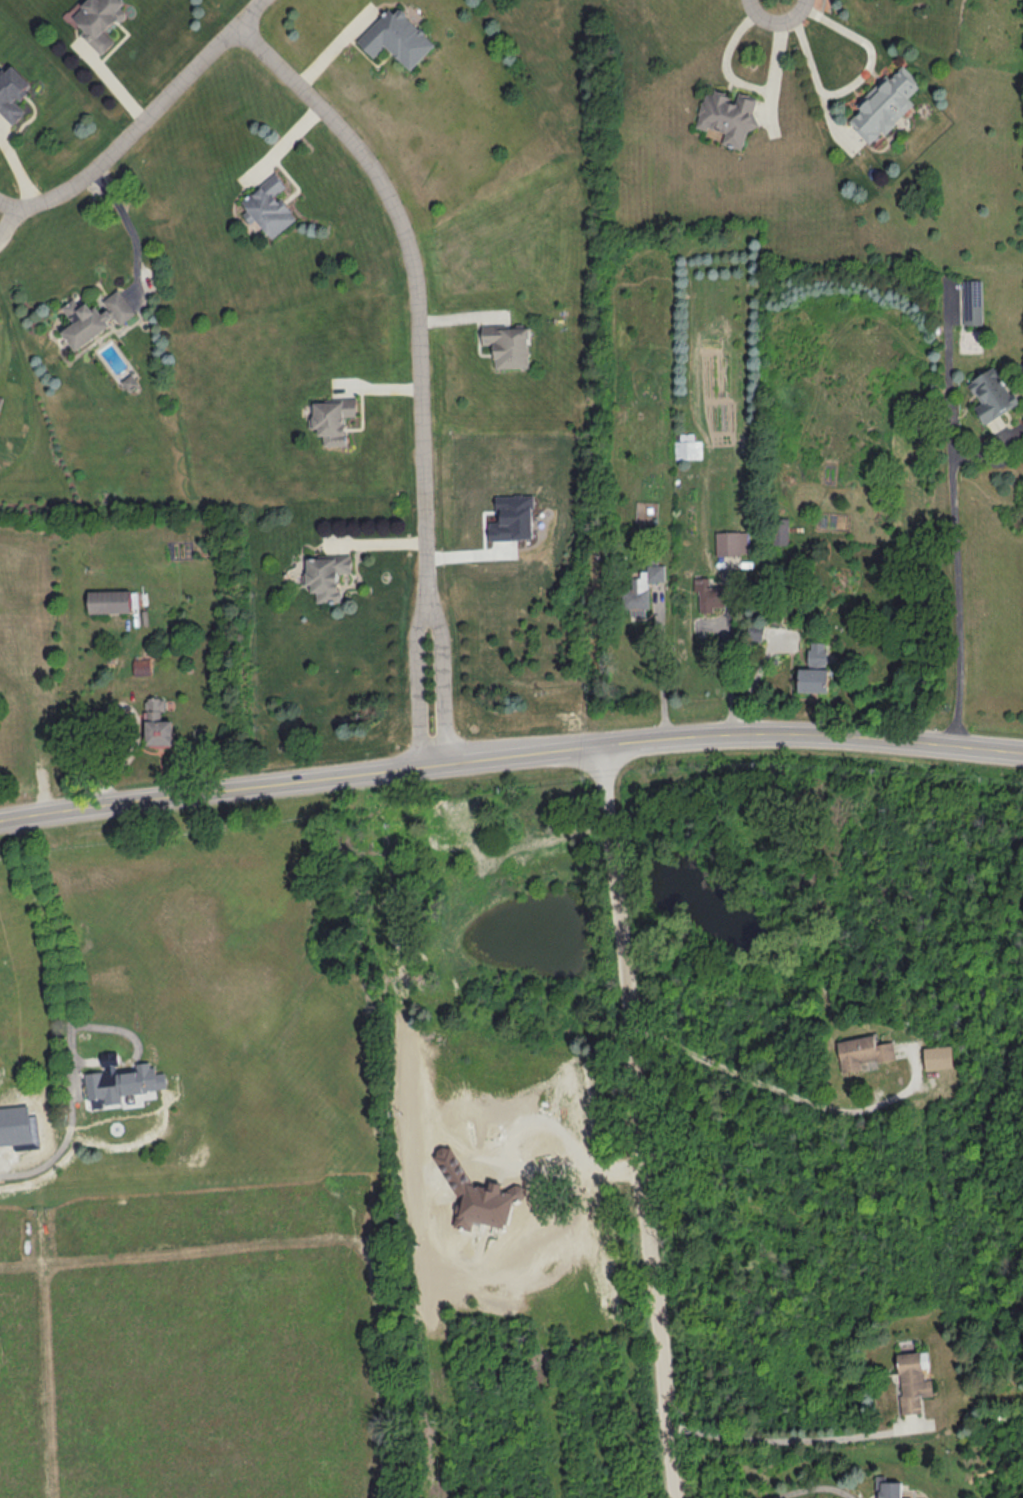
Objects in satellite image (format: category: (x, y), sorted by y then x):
building: (100, 22)
building: (398, 39)
road: (865, 45)
road: (817, 76)
road: (107, 84)
building: (13, 95)
building: (887, 105)
building: (728, 117)
road: (143, 121)
building: (271, 207)
road: (131, 229)
road: (418, 277)
building: (974, 302)
building: (95, 316)
building: (509, 346)
building: (993, 394)
building: (333, 420)
building: (689, 447)
building: (780, 531)
building: (732, 543)
building: (328, 577)
building: (643, 591)
road: (959, 592)
building: (710, 596)
building: (110, 601)
building: (819, 654)
road: (444, 674)
road: (730, 675)
road: (417, 677)
road: (661, 678)
road: (753, 679)
building: (815, 680)
road: (112, 704)
building: (160, 729)
road: (817, 734)
road: (516, 751)
road: (210, 789)
road: (79, 1010)
building: (866, 1053)
building: (939, 1058)
building: (125, 1083)
road: (767, 1083)
road: (643, 1120)
building: (915, 1382)
road: (797, 1439)
road: (813, 1489)
building: (892, 1490)

